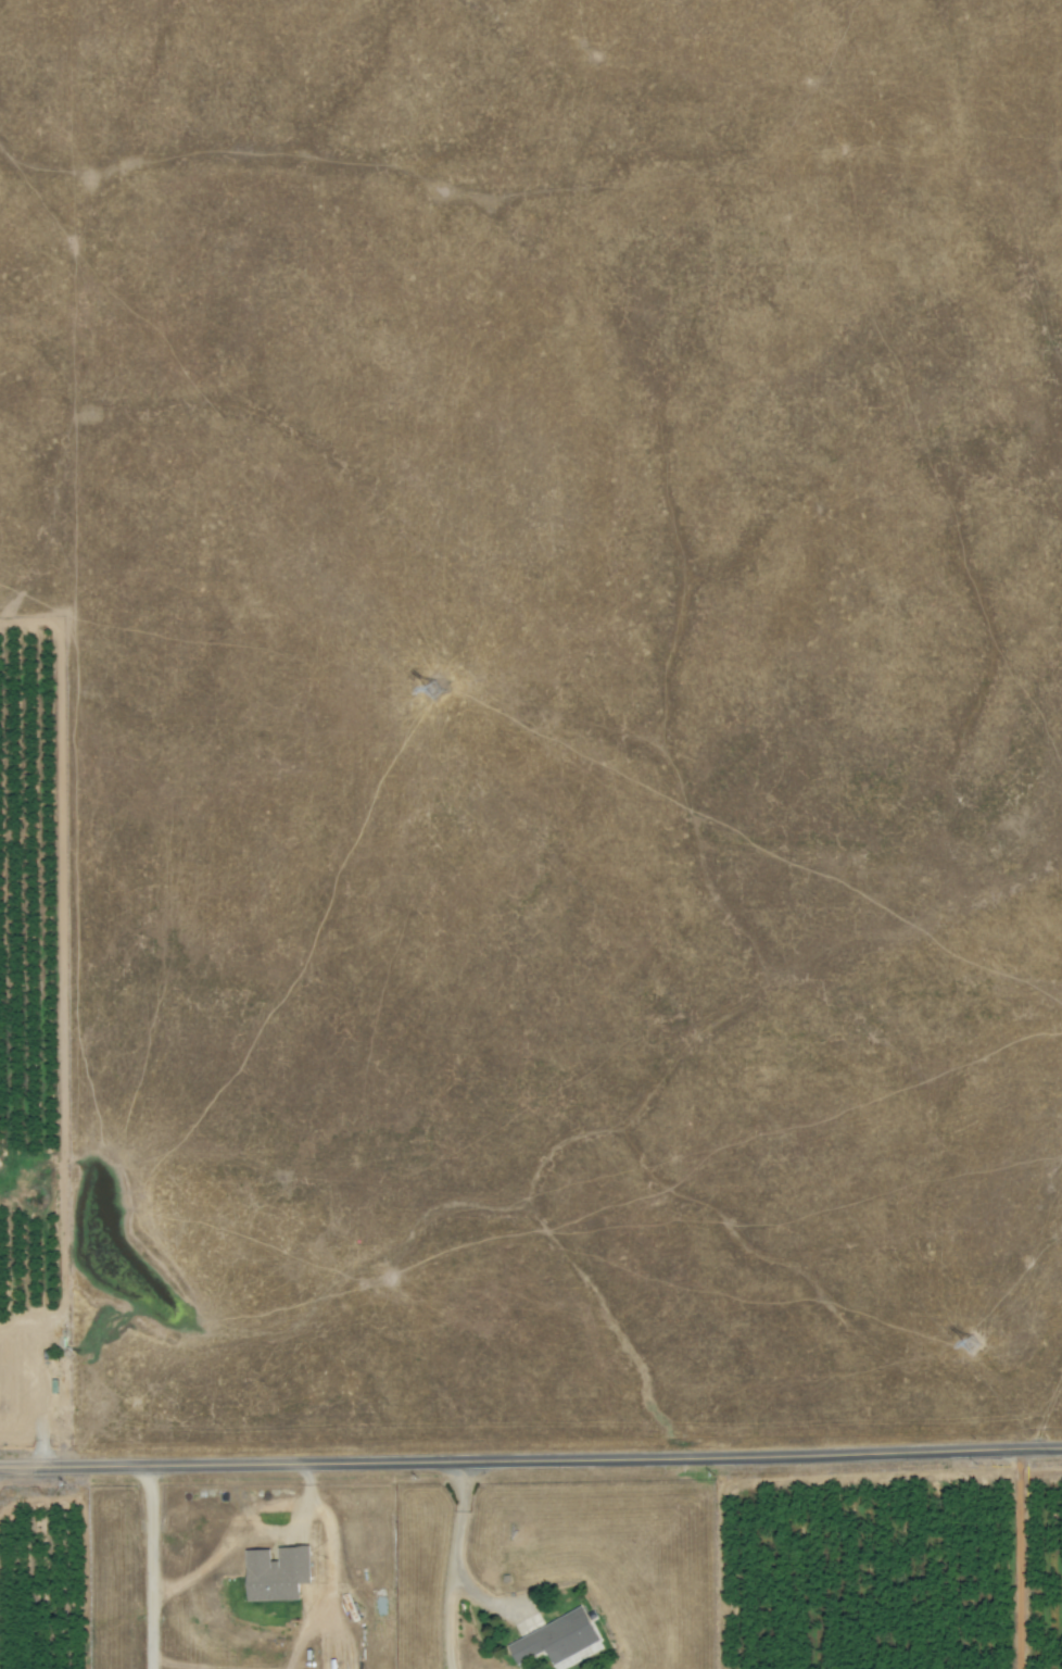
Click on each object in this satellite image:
power tower: (441, 689)
power tower: (978, 1344)
road: (531, 1463)
road: (233, 1530)
road: (443, 1566)
road: (148, 1567)
building: (274, 1576)
road: (332, 1577)
road: (304, 1632)
building: (554, 1641)
road: (189, 1665)

